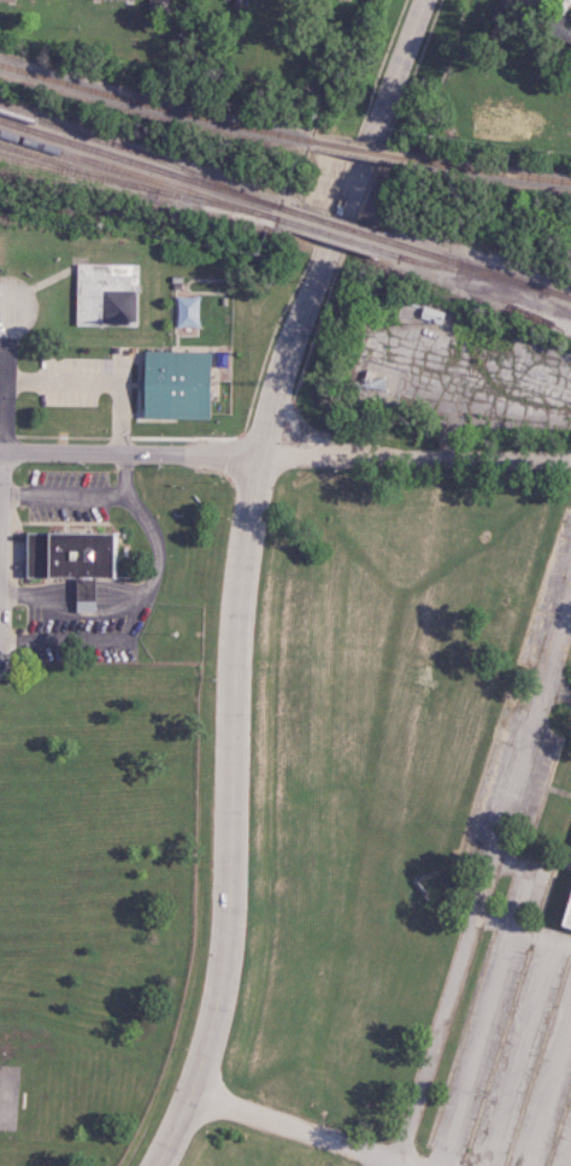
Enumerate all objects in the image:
building: (8, 0)
building: (526, 5)
building: (158, 6)
building: (559, 26)
park: (520, 102)
railway: (152, 106)
railway: (123, 147)
railway: (361, 151)
railway: (142, 164)
railway: (69, 165)
railway: (494, 170)
railway: (136, 175)
railway: (105, 179)
railway: (336, 224)
railway: (329, 234)
railway: (452, 269)
railway: (478, 270)
road: (1, 349)
building: (171, 384)
road: (129, 449)
road: (416, 453)
building: (70, 554)
road: (241, 575)
park: (40, 820)
road: (489, 872)
park: (98, 895)
building: (566, 909)
park: (8, 1095)
road: (301, 1127)

